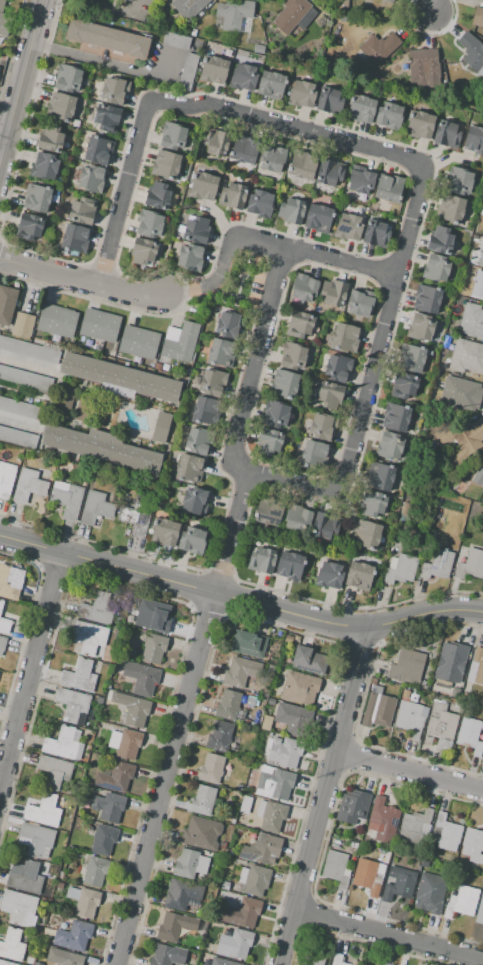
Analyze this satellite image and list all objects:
building: (95, 0)
building: (129, 0)
building: (389, 1)
building: (343, 5)
road: (429, 6)
building: (188, 7)
building: (234, 13)
building: (290, 15)
building: (477, 17)
building: (340, 18)
building: (4, 19)
building: (193, 32)
building: (107, 39)
building: (176, 41)
building: (377, 48)
building: (258, 49)
building: (471, 51)
road: (110, 64)
building: (425, 66)
building: (188, 70)
building: (213, 70)
road: (19, 73)
building: (243, 76)
building: (67, 79)
building: (271, 85)
building: (114, 90)
building: (302, 93)
building: (329, 99)
building: (61, 108)
building: (361, 109)
building: (389, 115)
building: (106, 118)
road: (285, 124)
building: (420, 124)
building: (446, 134)
building: (172, 135)
building: (50, 138)
building: (473, 140)
road: (0, 141)
building: (214, 143)
building: (97, 150)
building: (243, 150)
building: (272, 158)
building: (165, 165)
building: (302, 165)
building: (44, 166)
building: (330, 172)
building: (90, 178)
building: (360, 180)
building: (459, 180)
building: (203, 186)
building: (389, 188)
road: (123, 192)
building: (232, 195)
building: (157, 196)
building: (482, 196)
building: (36, 198)
building: (259, 203)
building: (450, 209)
building: (481, 210)
building: (82, 211)
building: (291, 211)
building: (318, 218)
building: (149, 224)
building: (28, 226)
building: (348, 227)
building: (196, 230)
building: (375, 234)
building: (74, 238)
building: (441, 239)
road: (226, 248)
building: (143, 252)
building: (189, 257)
building: (481, 258)
road: (337, 261)
building: (436, 268)
road: (49, 272)
building: (477, 286)
building: (303, 287)
building: (333, 292)
road: (143, 294)
building: (425, 299)
building: (360, 302)
building: (6, 304)
building: (57, 320)
building: (472, 321)
building: (99, 324)
building: (228, 324)
building: (299, 324)
building: (23, 325)
building: (420, 327)
building: (345, 336)
building: (138, 342)
building: (180, 342)
building: (450, 344)
building: (29, 349)
building: (220, 352)
building: (292, 356)
building: (467, 356)
building: (410, 358)
road: (26, 363)
road: (252, 364)
building: (335, 367)
building: (25, 378)
building: (120, 378)
road: (370, 378)
building: (212, 382)
building: (284, 384)
building: (403, 385)
building: (459, 393)
building: (329, 395)
building: (64, 400)
building: (21, 408)
building: (205, 410)
building: (276, 414)
building: (395, 417)
road: (17, 422)
building: (322, 426)
building: (160, 427)
building: (468, 435)
building: (18, 437)
building: (198, 440)
building: (269, 441)
building: (388, 446)
building: (100, 448)
building: (310, 453)
building: (188, 468)
building: (478, 474)
building: (380, 476)
building: (6, 479)
building: (28, 486)
building: (67, 501)
building: (194, 501)
building: (374, 505)
building: (95, 509)
building: (268, 511)
building: (136, 518)
building: (298, 518)
building: (324, 525)
building: (164, 532)
road: (232, 532)
building: (431, 533)
building: (366, 534)
building: (191, 540)
building: (261, 560)
building: (437, 564)
building: (470, 564)
building: (290, 566)
building: (401, 570)
building: (329, 575)
building: (359, 575)
building: (7, 584)
road: (240, 600)
building: (1, 604)
building: (97, 608)
building: (137, 610)
building: (156, 620)
building: (5, 626)
building: (90, 638)
building: (296, 638)
building: (288, 639)
building: (2, 644)
building: (248, 644)
building: (154, 649)
building: (307, 660)
building: (450, 663)
road: (29, 665)
building: (406, 666)
building: (476, 667)
building: (274, 668)
building: (240, 671)
building: (79, 676)
building: (141, 678)
building: (373, 680)
building: (299, 688)
building: (249, 701)
building: (271, 701)
building: (482, 701)
building: (72, 704)
building: (227, 705)
building: (377, 708)
building: (132, 709)
building: (410, 716)
building: (290, 718)
building: (246, 722)
building: (252, 723)
building: (266, 723)
building: (441, 725)
building: (219, 736)
building: (469, 736)
building: (64, 743)
building: (125, 743)
building: (284, 751)
building: (210, 768)
road: (408, 769)
building: (53, 771)
building: (114, 776)
road: (163, 779)
building: (274, 783)
building: (239, 786)
road: (320, 797)
building: (203, 800)
building: (245, 805)
building: (108, 806)
building: (235, 807)
building: (353, 807)
building: (41, 810)
building: (270, 815)
building: (382, 820)
building: (232, 821)
building: (414, 826)
building: (201, 833)
building: (447, 833)
building: (35, 839)
building: (102, 840)
building: (221, 845)
building: (473, 846)
building: (262, 849)
building: (190, 864)
building: (335, 868)
building: (94, 870)
building: (26, 876)
building: (366, 876)
building: (254, 879)
building: (401, 884)
building: (60, 885)
building: (224, 885)
building: (429, 893)
building: (182, 895)
building: (84, 901)
building: (463, 902)
building: (19, 908)
building: (480, 910)
building: (247, 911)
building: (174, 926)
road: (387, 934)
building: (70, 936)
building: (224, 938)
building: (45, 939)
building: (239, 943)
building: (12, 945)
building: (167, 955)
building: (192, 956)
building: (315, 956)
building: (62, 957)
building: (337, 959)
building: (206, 962)
building: (221, 962)
building: (5, 963)

